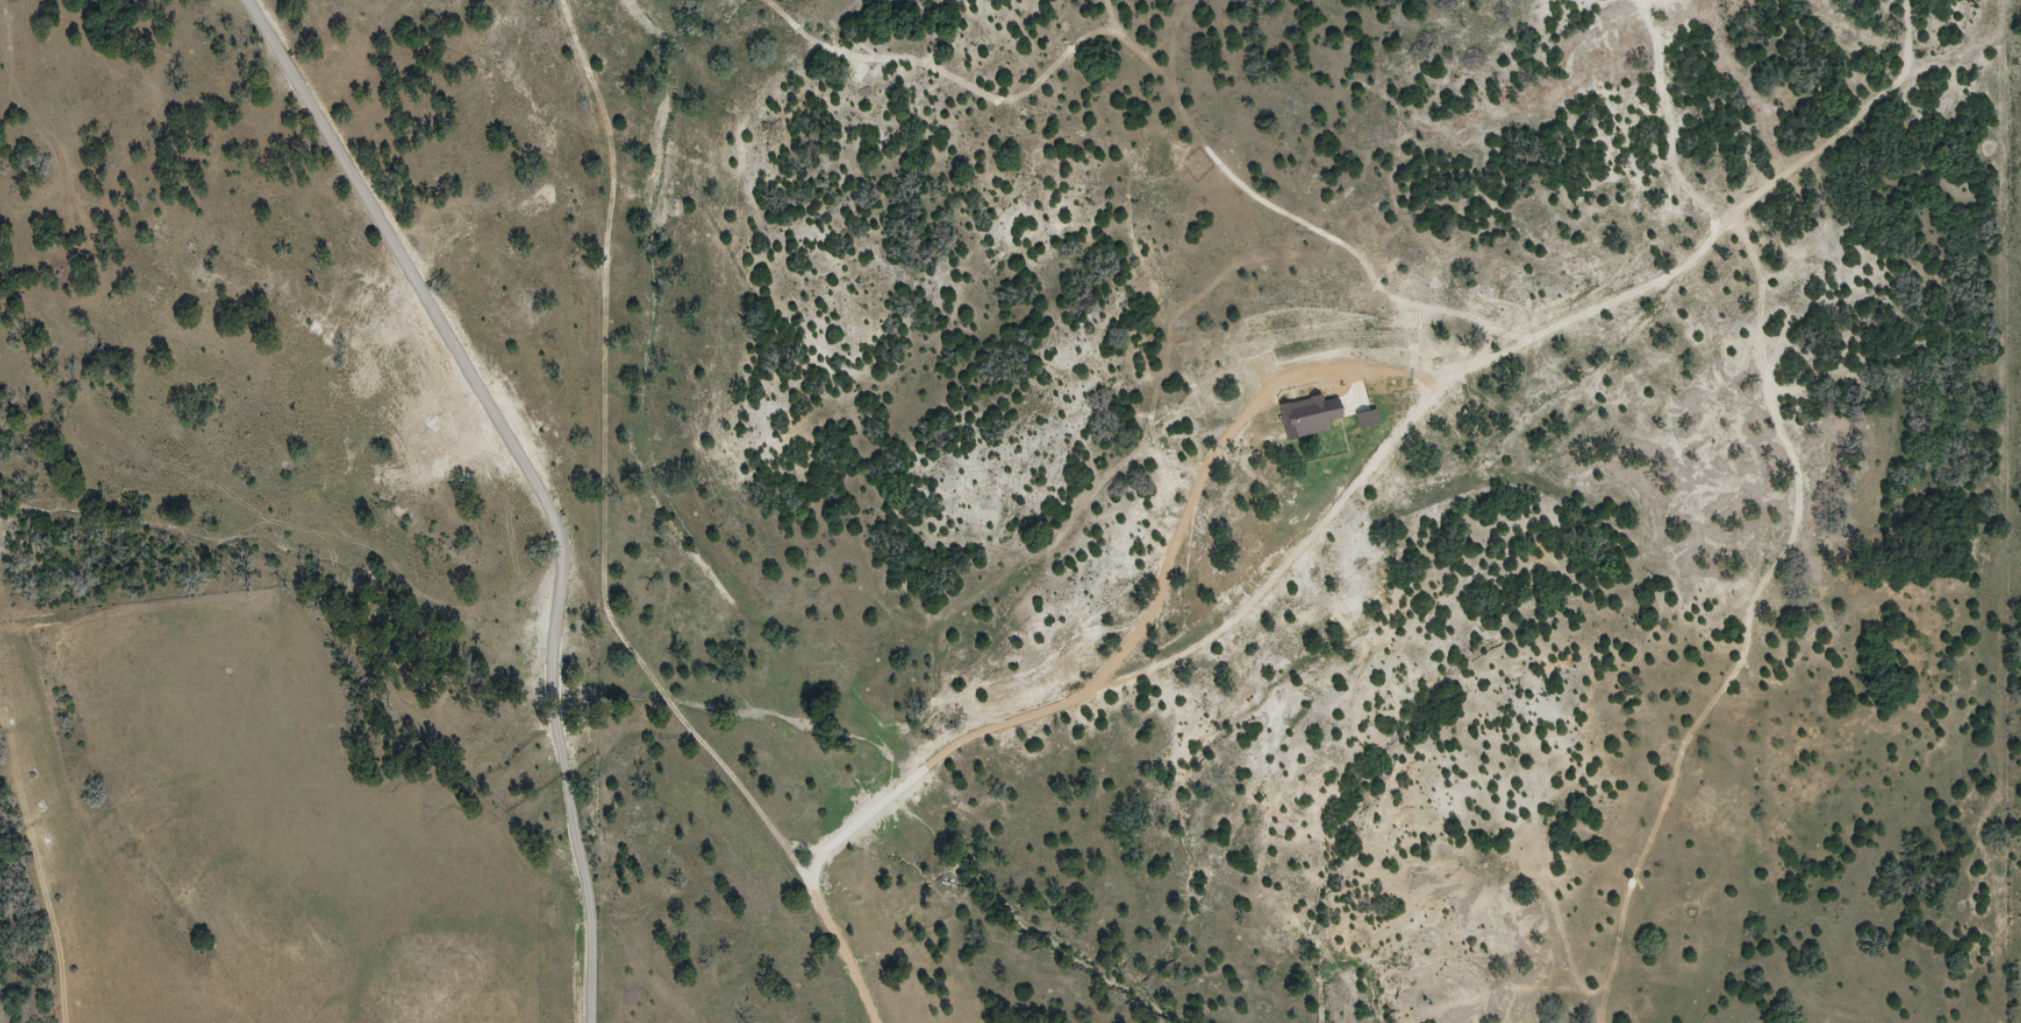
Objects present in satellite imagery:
road: (580, 499)
road: (1065, 705)

